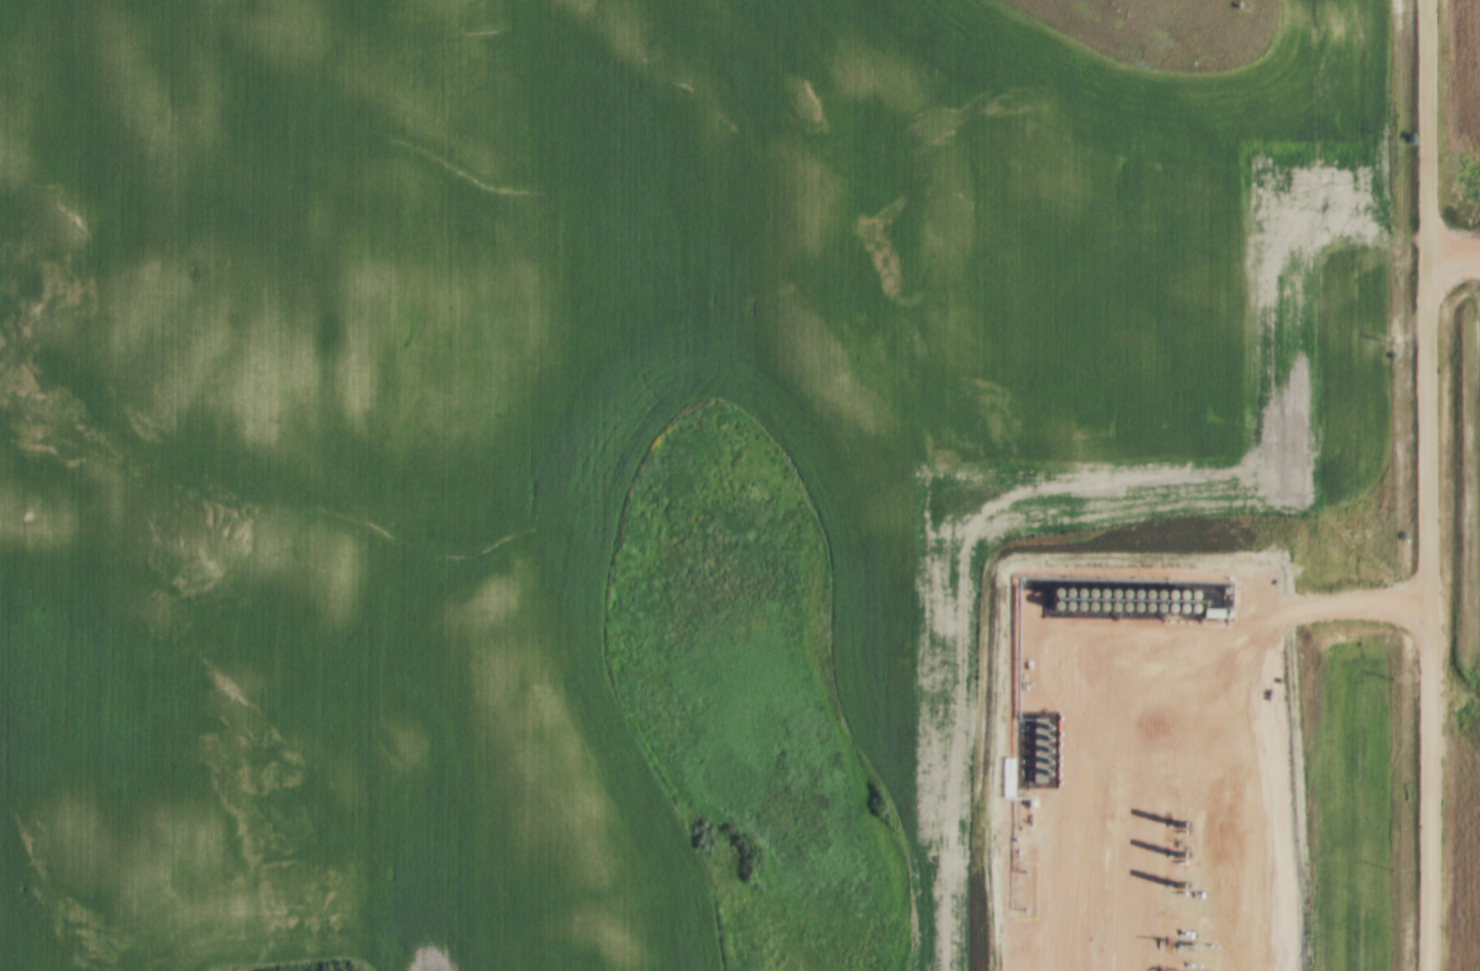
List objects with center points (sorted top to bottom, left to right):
road: (1422, 485)

